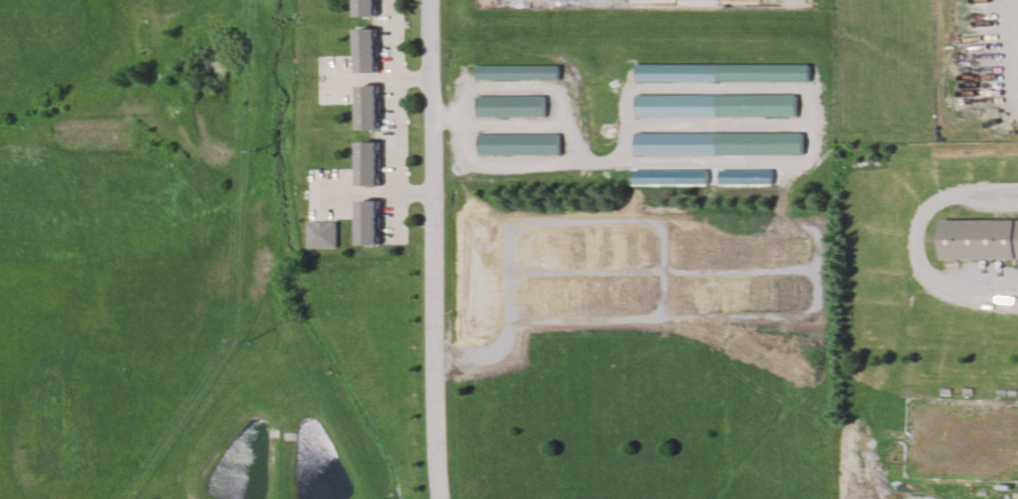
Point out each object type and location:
building: (365, 7)
building: (365, 49)
building: (520, 72)
building: (723, 73)
road: (540, 89)
road: (630, 93)
building: (718, 105)
building: (366, 106)
building: (512, 107)
road: (394, 110)
road: (521, 124)
road: (722, 124)
building: (716, 143)
building: (519, 144)
building: (365, 163)
road: (504, 165)
building: (367, 223)
building: (321, 235)
road: (921, 238)
building: (978, 239)
road: (431, 249)
road: (891, 376)

